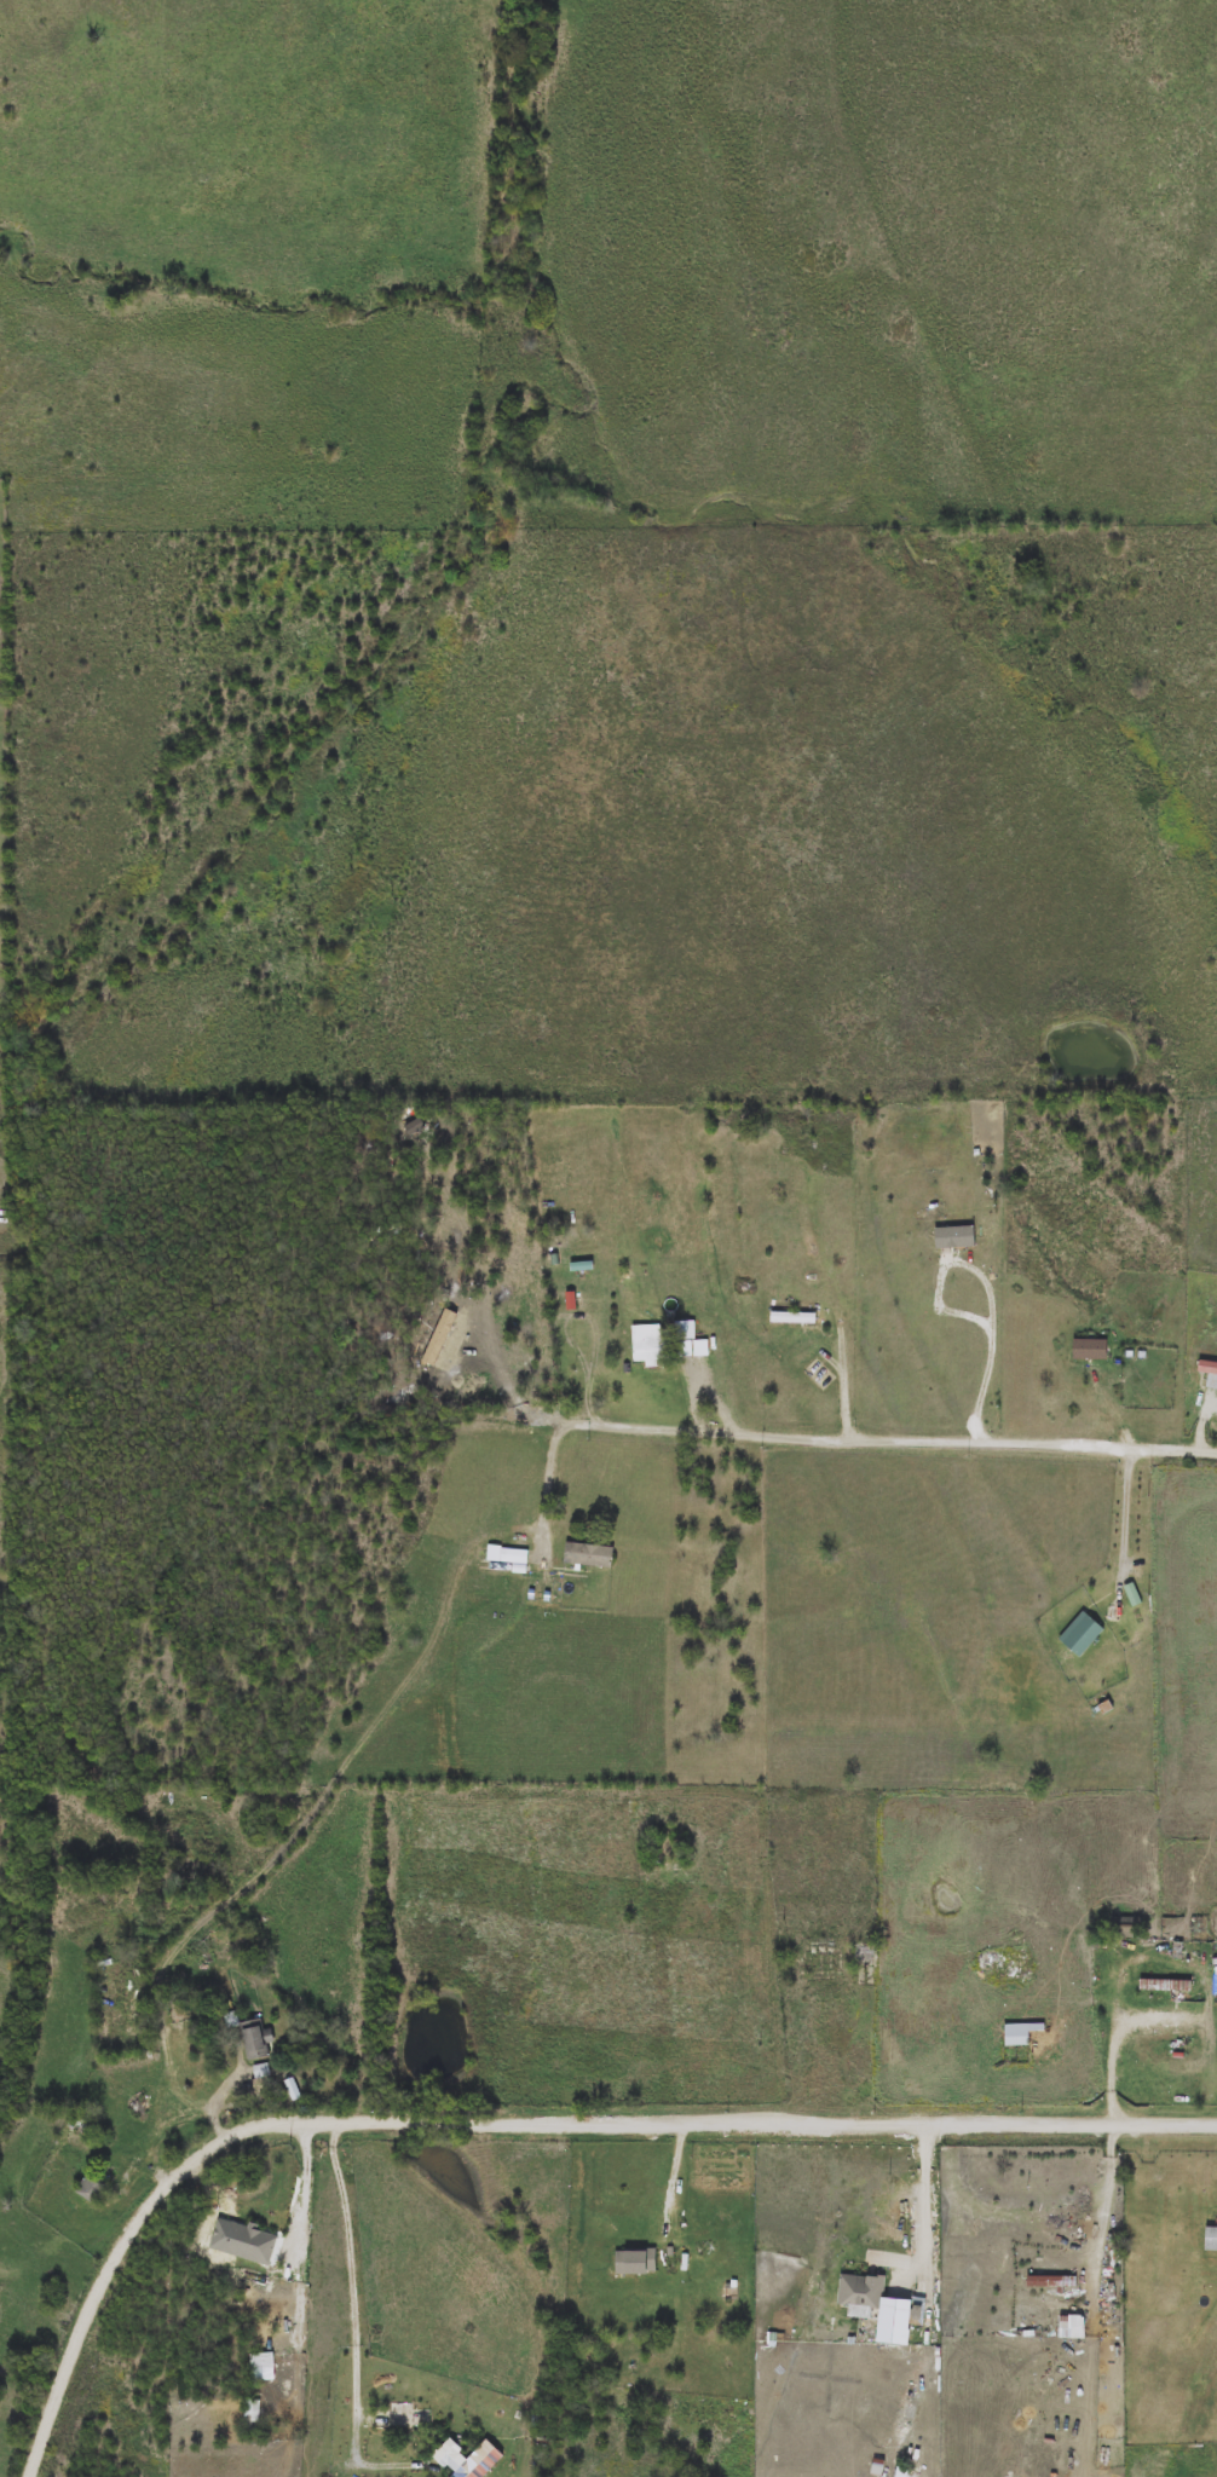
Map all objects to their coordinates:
building: (795, 1318)
road: (846, 1330)
road: (998, 1343)
building: (652, 1345)
building: (1090, 1349)
building: (1212, 1381)
road: (698, 1391)
road: (842, 1437)
road: (1126, 1512)
building: (590, 1555)
building: (1134, 1594)
building: (1082, 1634)
building: (1127, 1927)
building: (866, 1956)
building: (1166, 1985)
building: (1020, 2033)
building: (256, 2042)
road: (519, 2118)
road: (679, 2170)
road: (306, 2187)
building: (94, 2188)
road: (1085, 2201)
road: (933, 2204)
building: (260, 2213)
building: (988, 2245)
road: (352, 2248)
building: (636, 2263)
building: (1051, 2282)
building: (480, 2461)

